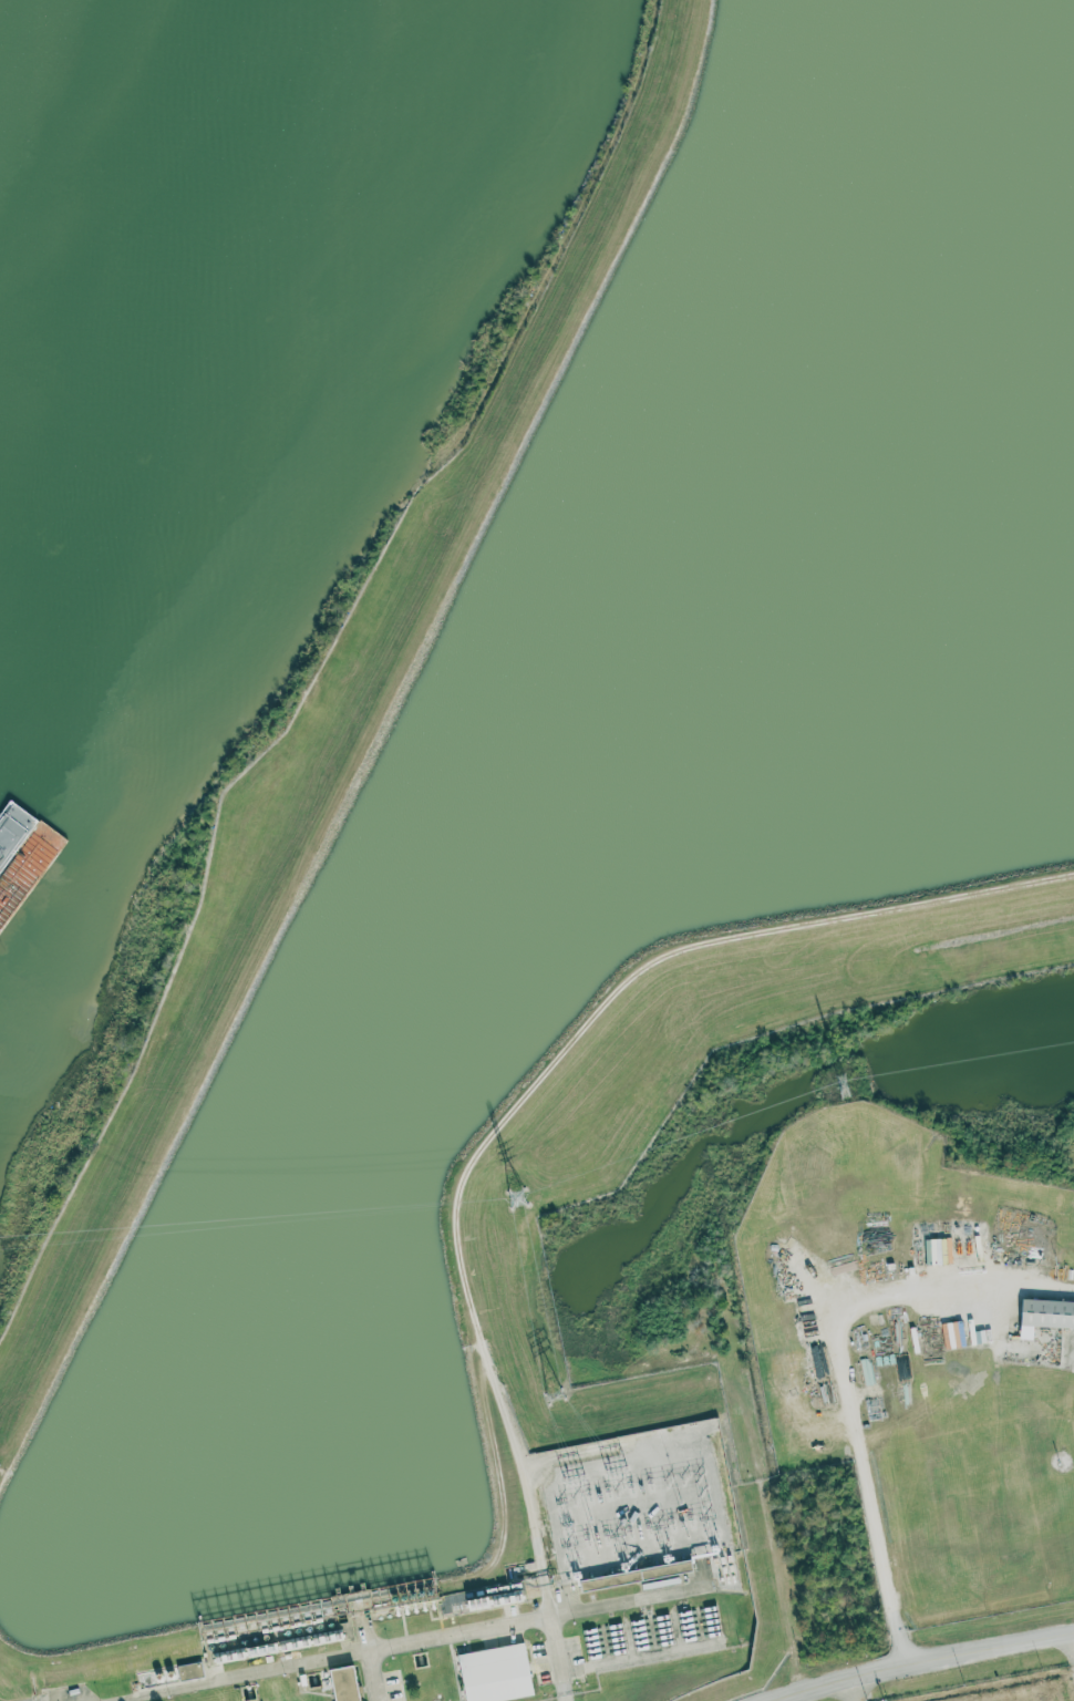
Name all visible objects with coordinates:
building: (2, 909)
road: (589, 1004)
power tower: (846, 1085)
power tower: (518, 1198)
building: (937, 1250)
building: (1044, 1315)
road: (1001, 1327)
road: (847, 1375)
power tower: (554, 1396)
road: (706, 1423)
power substation: (633, 1506)
road: (1072, 1645)
road: (330, 1659)
road: (560, 1659)
road: (918, 1661)
building: (493, 1672)
road: (379, 1676)
building: (341, 1683)
road: (853, 1689)

